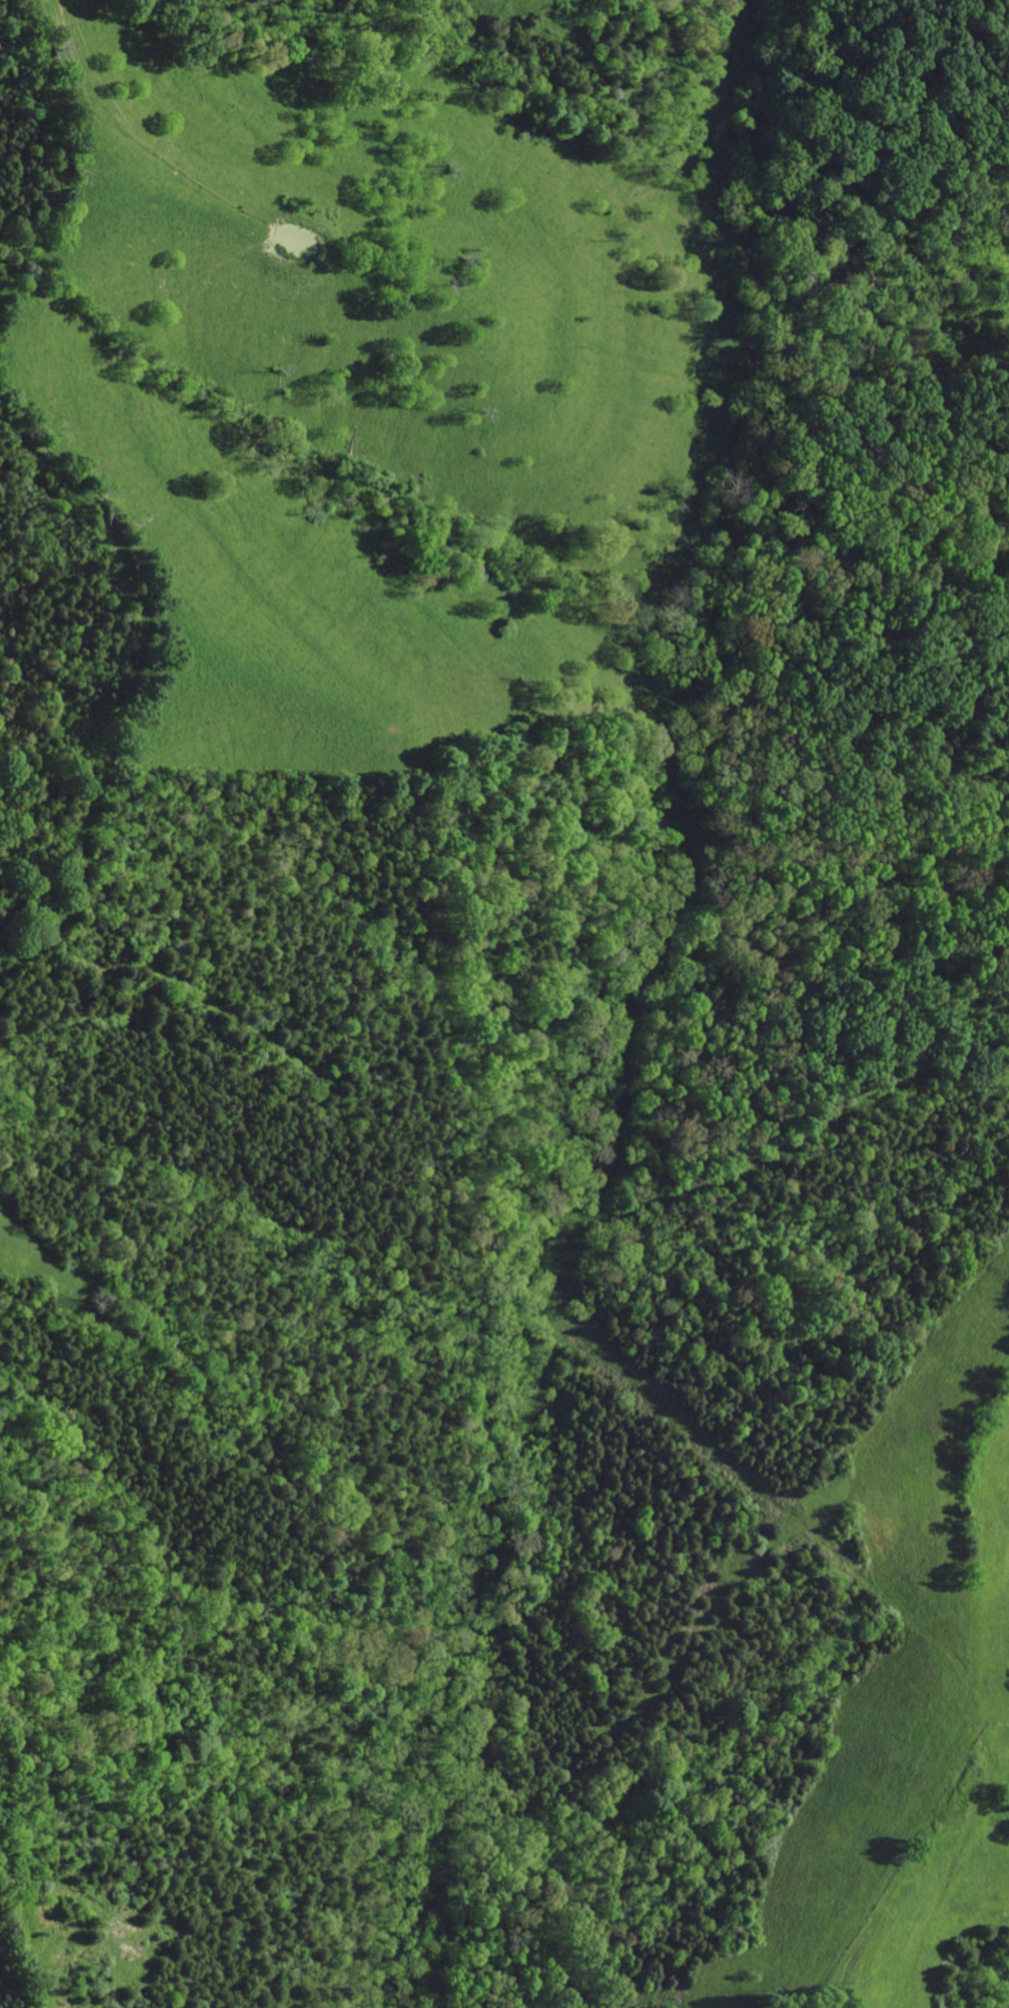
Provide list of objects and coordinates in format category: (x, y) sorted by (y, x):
road: (81, 480)

